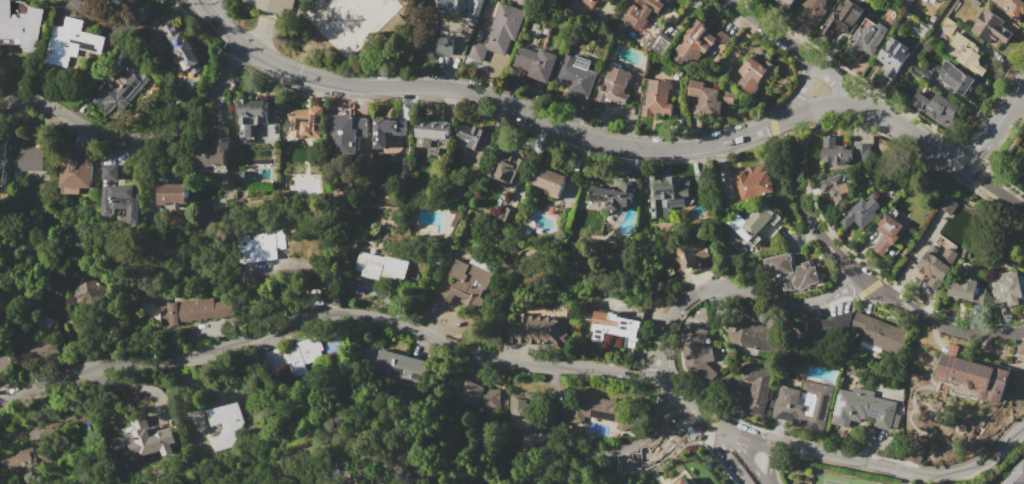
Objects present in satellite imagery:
building: (106, 0)
building: (928, 0)
building: (113, 2)
building: (589, 2)
building: (906, 2)
building: (785, 3)
building: (272, 4)
building: (449, 6)
building: (1016, 8)
building: (640, 11)
building: (814, 12)
building: (842, 20)
building: (21, 24)
road: (222, 24)
building: (393, 25)
road: (118, 26)
building: (947, 26)
building: (990, 27)
building: (498, 32)
building: (478, 35)
building: (866, 37)
building: (71, 42)
building: (156, 42)
building: (700, 42)
building: (445, 45)
road: (789, 48)
building: (181, 49)
building: (965, 53)
building: (892, 56)
building: (535, 62)
building: (576, 74)
building: (755, 76)
building: (960, 81)
road: (343, 83)
building: (614, 85)
road: (804, 89)
building: (121, 92)
building: (709, 97)
building: (657, 98)
building: (935, 107)
building: (252, 115)
building: (307, 121)
road: (994, 127)
building: (387, 130)
building: (430, 132)
road: (911, 132)
building: (341, 134)
building: (472, 135)
road: (138, 136)
road: (650, 149)
building: (214, 150)
building: (844, 153)
building: (29, 158)
building: (2, 162)
building: (1021, 166)
building: (506, 169)
building: (76, 171)
building: (550, 181)
building: (751, 183)
building: (835, 187)
road: (995, 188)
building: (172, 193)
building: (118, 195)
building: (669, 195)
building: (615, 196)
building: (947, 204)
building: (863, 212)
building: (508, 214)
building: (753, 223)
building: (889, 232)
building: (259, 245)
building: (964, 252)
building: (691, 253)
building: (1023, 261)
building: (937, 264)
building: (381, 266)
building: (791, 273)
road: (856, 275)
building: (61, 282)
building: (466, 283)
building: (964, 289)
building: (1009, 290)
building: (87, 291)
road: (686, 295)
building: (203, 309)
road: (329, 311)
building: (168, 314)
building: (836, 323)
building: (44, 324)
building: (614, 327)
building: (810, 327)
building: (539, 332)
building: (880, 334)
building: (756, 337)
building: (39, 347)
building: (698, 356)
building: (291, 357)
building: (4, 362)
building: (401, 367)
building: (974, 378)
building: (728, 391)
building: (478, 395)
building: (803, 404)
building: (861, 409)
building: (523, 412)
building: (602, 412)
building: (225, 424)
road: (721, 433)
building: (147, 440)
road: (608, 451)
building: (21, 459)
road: (750, 460)
road: (734, 462)
road: (768, 463)
road: (887, 467)
building: (1015, 474)
building: (683, 481)
road: (764, 483)

